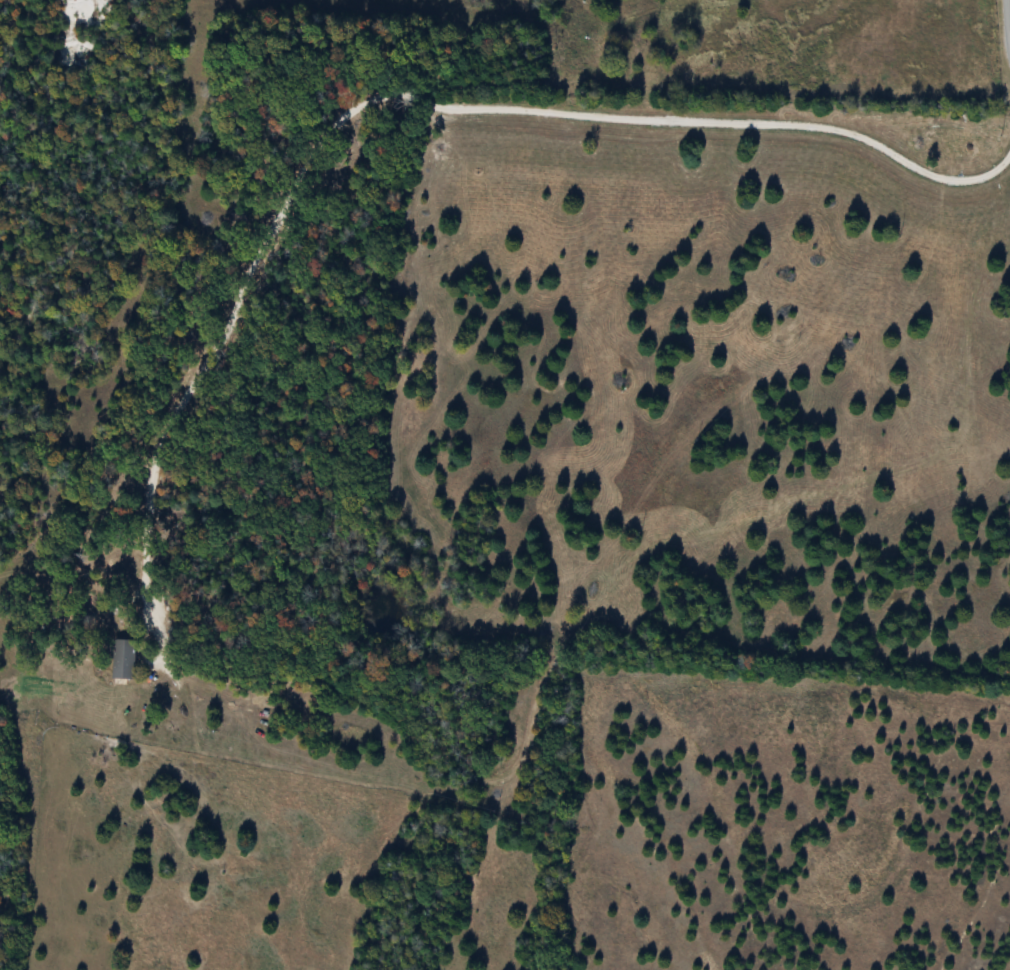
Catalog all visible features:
road: (1005, 28)
road: (378, 101)
building: (121, 659)

